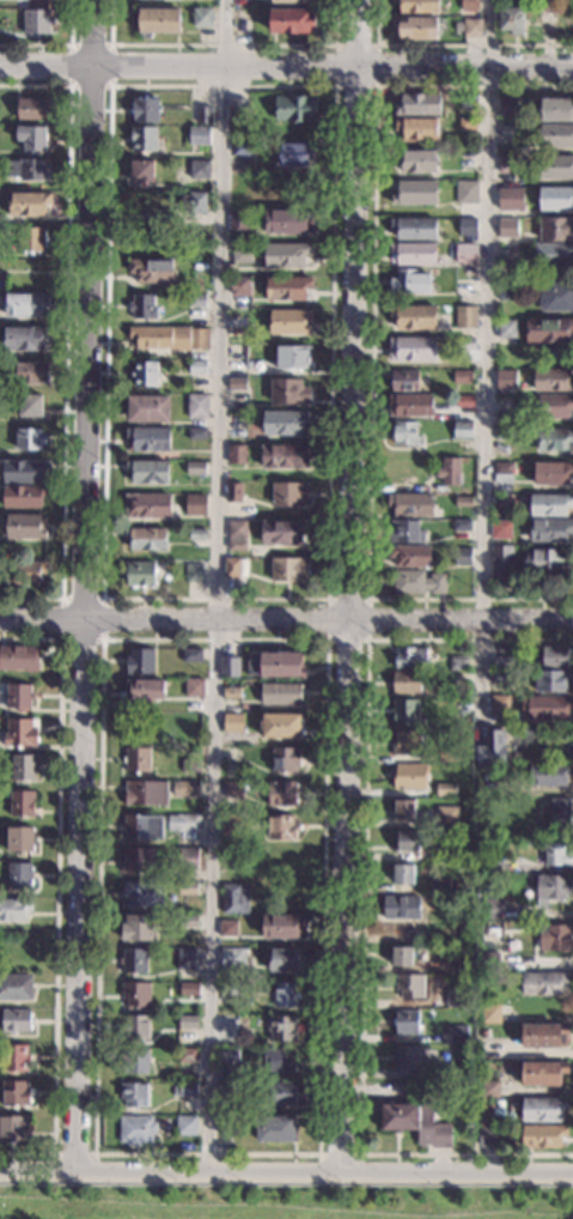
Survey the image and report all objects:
building: (292, 1)
building: (510, 2)
building: (469, 5)
building: (416, 6)
building: (544, 16)
building: (201, 19)
building: (157, 22)
building: (289, 22)
building: (510, 22)
building: (36, 23)
building: (416, 29)
building: (471, 29)
road: (59, 44)
road: (225, 44)
road: (452, 44)
road: (286, 63)
road: (109, 86)
road: (376, 86)
building: (469, 102)
building: (419, 105)
building: (506, 109)
building: (295, 110)
building: (555, 110)
building: (33, 111)
building: (144, 111)
building: (238, 113)
building: (202, 116)
building: (468, 123)
building: (417, 129)
building: (506, 134)
building: (197, 137)
building: (555, 137)
building: (31, 139)
building: (142, 141)
building: (242, 150)
building: (293, 156)
building: (467, 159)
building: (416, 160)
building: (506, 165)
building: (556, 168)
building: (29, 170)
building: (200, 171)
building: (141, 174)
building: (467, 190)
building: (415, 193)
building: (249, 198)
building: (555, 199)
building: (510, 200)
building: (193, 204)
building: (28, 205)
building: (237, 223)
building: (288, 224)
building: (507, 226)
building: (467, 228)
building: (415, 229)
building: (554, 229)
building: (31, 241)
building: (413, 254)
building: (465, 254)
building: (507, 254)
building: (242, 255)
building: (551, 255)
building: (285, 257)
building: (199, 268)
building: (150, 272)
building: (410, 283)
building: (463, 286)
building: (240, 287)
building: (287, 289)
building: (506, 292)
building: (555, 297)
building: (196, 303)
building: (26, 307)
building: (141, 308)
building: (415, 317)
building: (465, 317)
building: (289, 322)
building: (506, 329)
building: (548, 329)
building: (169, 338)
building: (23, 339)
road: (65, 339)
building: (465, 345)
road: (371, 346)
building: (413, 350)
building: (294, 359)
road: (487, 363)
building: (248, 366)
building: (197, 369)
building: (183, 371)
building: (28, 375)
building: (145, 375)
building: (462, 378)
building: (505, 380)
building: (404, 381)
building: (551, 381)
building: (236, 386)
building: (288, 394)
building: (464, 402)
building: (410, 406)
building: (554, 406)
building: (29, 407)
building: (196, 408)
building: (147, 410)
building: (284, 425)
building: (462, 431)
building: (502, 433)
building: (404, 435)
building: (196, 436)
building: (29, 439)
building: (554, 439)
building: (148, 441)
building: (236, 456)
building: (285, 456)
building: (194, 469)
building: (22, 472)
building: (449, 472)
building: (505, 473)
building: (550, 473)
building: (148, 474)
building: (233, 495)
building: (288, 496)
building: (22, 498)
building: (463, 503)
building: (410, 505)
building: (549, 505)
building: (195, 507)
building: (147, 508)
building: (462, 527)
building: (25, 528)
building: (238, 529)
building: (550, 529)
building: (406, 530)
building: (500, 530)
building: (282, 533)
building: (197, 534)
building: (145, 540)
building: (236, 547)
building: (412, 557)
building: (462, 557)
building: (501, 563)
building: (547, 563)
building: (233, 569)
building: (289, 572)
building: (26, 574)
building: (140, 575)
building: (194, 575)
building: (419, 581)
road: (218, 586)
road: (354, 586)
road: (91, 587)
road: (103, 599)
road: (103, 599)
road: (286, 621)
road: (366, 638)
building: (190, 655)
building: (18, 659)
building: (554, 659)
building: (410, 660)
building: (139, 662)
building: (458, 663)
building: (502, 663)
building: (228, 666)
building: (278, 666)
building: (499, 678)
building: (553, 681)
building: (404, 684)
building: (195, 687)
building: (144, 690)
building: (230, 692)
building: (279, 695)
building: (465, 695)
building: (19, 697)
building: (499, 705)
building: (548, 709)
building: (404, 712)
building: (228, 723)
building: (280, 724)
building: (20, 734)
building: (407, 745)
building: (490, 752)
building: (446, 757)
building: (134, 760)
building: (285, 760)
building: (190, 766)
building: (23, 768)
building: (548, 775)
building: (409, 777)
building: (490, 783)
building: (184, 788)
building: (231, 788)
building: (444, 792)
building: (145, 793)
building: (281, 794)
building: (22, 803)
building: (403, 809)
building: (560, 814)
building: (446, 817)
building: (227, 826)
building: (142, 827)
building: (280, 827)
building: (20, 841)
building: (185, 841)
building: (406, 843)
building: (551, 854)
building: (439, 855)
building: (227, 857)
building: (280, 860)
building: (136, 861)
building: (487, 865)
building: (19, 875)
building: (401, 875)
building: (439, 886)
building: (187, 889)
building: (553, 889)
road: (57, 892)
building: (145, 892)
building: (233, 899)
road: (362, 899)
building: (401, 908)
building: (467, 908)
building: (489, 908)
building: (14, 909)
building: (185, 921)
building: (136, 927)
building: (280, 927)
building: (227, 928)
building: (554, 939)
building: (519, 944)
building: (187, 958)
building: (231, 958)
building: (284, 959)
building: (403, 959)
building: (133, 960)
building: (489, 964)
building: (544, 984)
building: (16, 988)
building: (228, 988)
building: (409, 988)
building: (188, 989)
building: (135, 994)
building: (285, 995)
building: (457, 1000)
building: (489, 1015)
building: (17, 1021)
building: (187, 1021)
building: (230, 1021)
building: (406, 1023)
building: (134, 1026)
building: (280, 1027)
building: (482, 1035)
building: (458, 1036)
building: (543, 1036)
building: (185, 1056)
building: (224, 1057)
building: (404, 1057)
building: (16, 1059)
building: (279, 1060)
building: (133, 1062)
building: (458, 1074)
building: (542, 1074)
building: (225, 1087)
building: (182, 1090)
building: (488, 1091)
building: (16, 1093)
building: (133, 1093)
building: (275, 1094)
building: (542, 1112)
building: (476, 1120)
building: (414, 1123)
building: (185, 1126)
building: (227, 1126)
building: (13, 1129)
building: (275, 1129)
building: (135, 1130)
building: (489, 1138)
building: (543, 1138)
road: (96, 1154)
road: (74, 1156)
road: (339, 1156)
road: (286, 1171)
park: (282, 1199)

